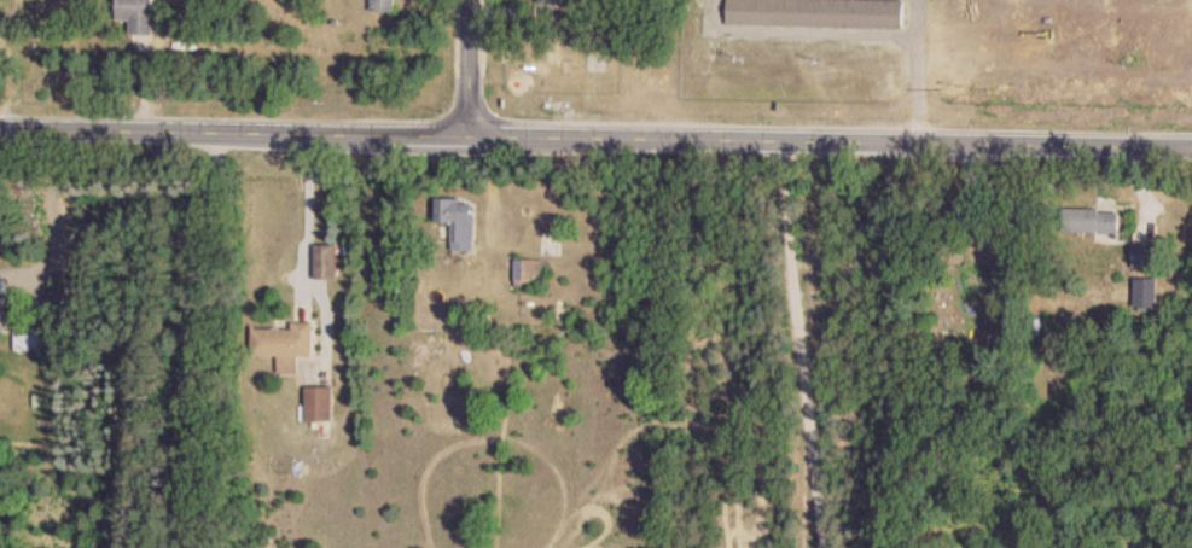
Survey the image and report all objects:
building: (548, 1)
building: (384, 6)
building: (814, 13)
building: (135, 16)
road: (470, 66)
road: (595, 138)
building: (944, 212)
road: (51, 216)
building: (1089, 221)
building: (453, 222)
road: (303, 247)
building: (324, 262)
building: (527, 272)
road: (182, 333)
building: (24, 340)
road: (797, 344)
building: (283, 345)
building: (318, 403)
road: (1171, 489)

